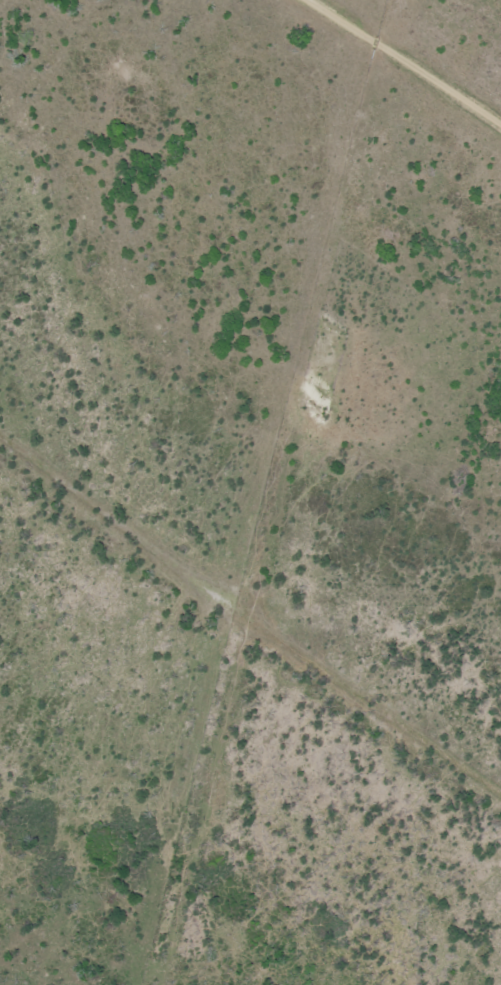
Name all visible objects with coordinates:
road: (402, 65)

